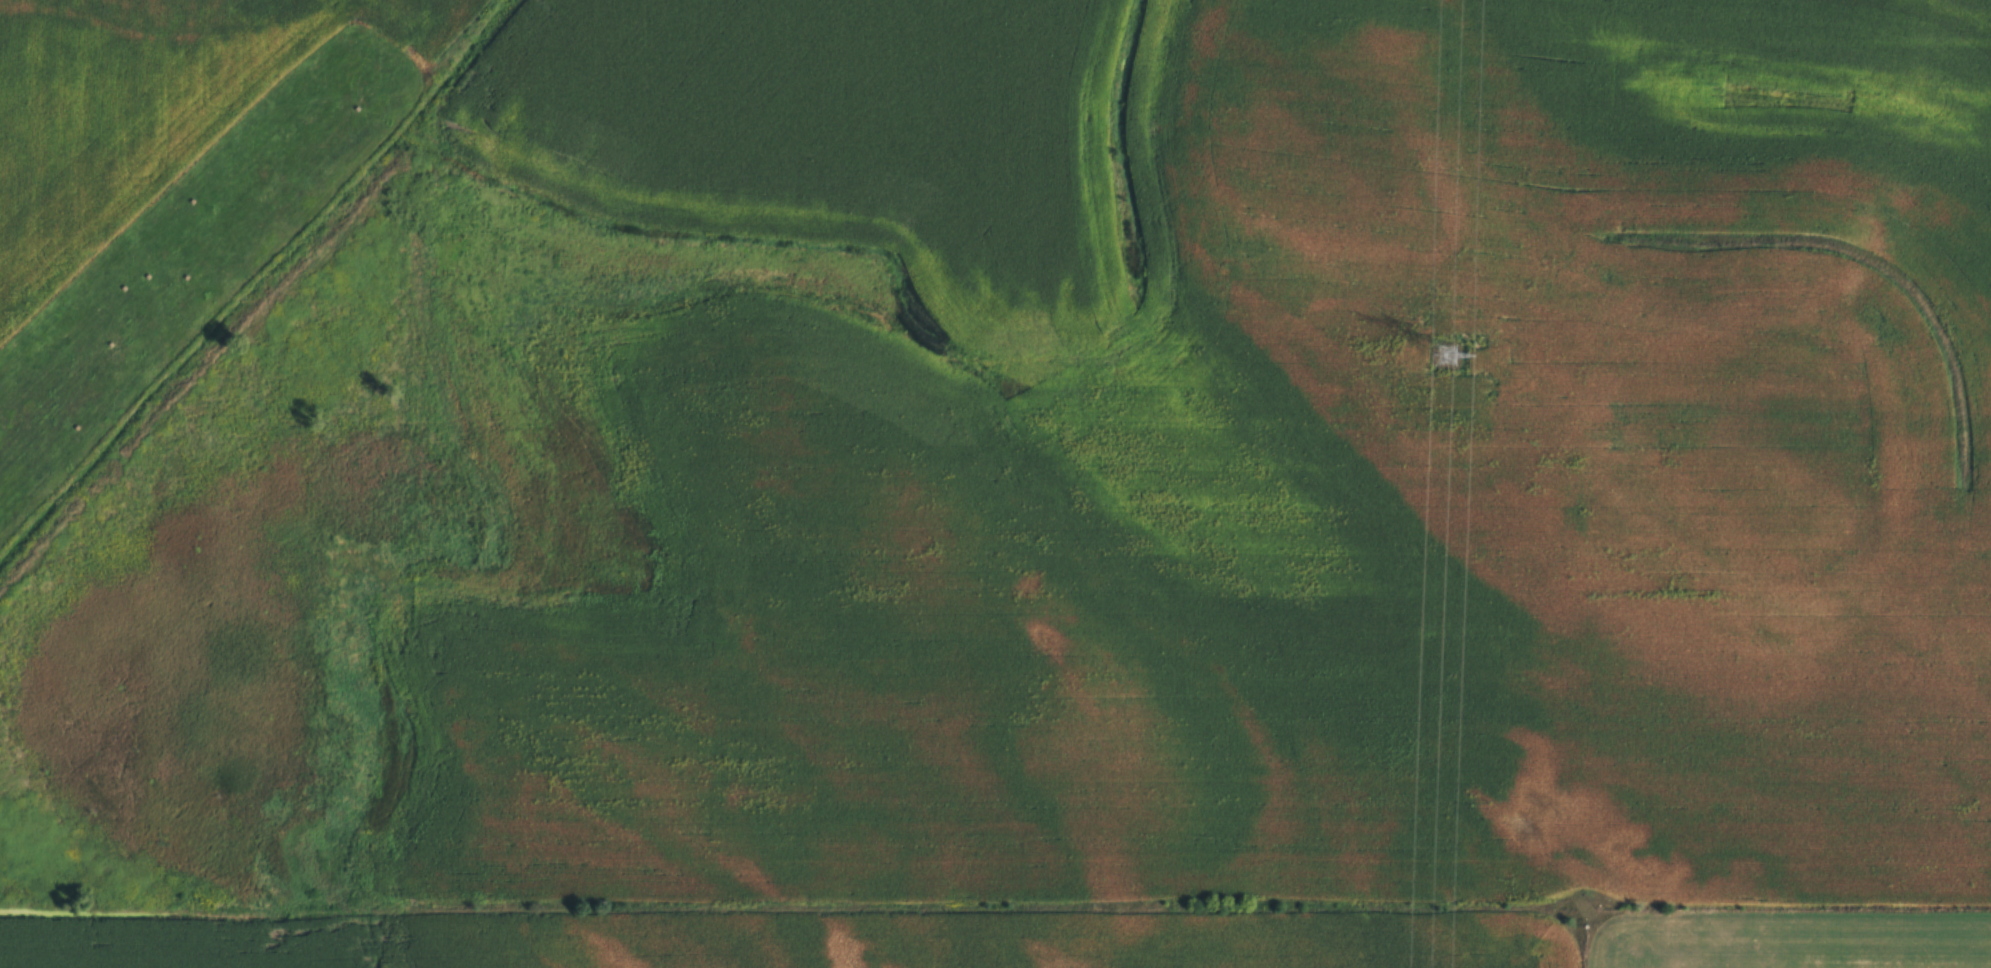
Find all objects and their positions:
power tower: (1453, 363)
crop: (995, 484)

